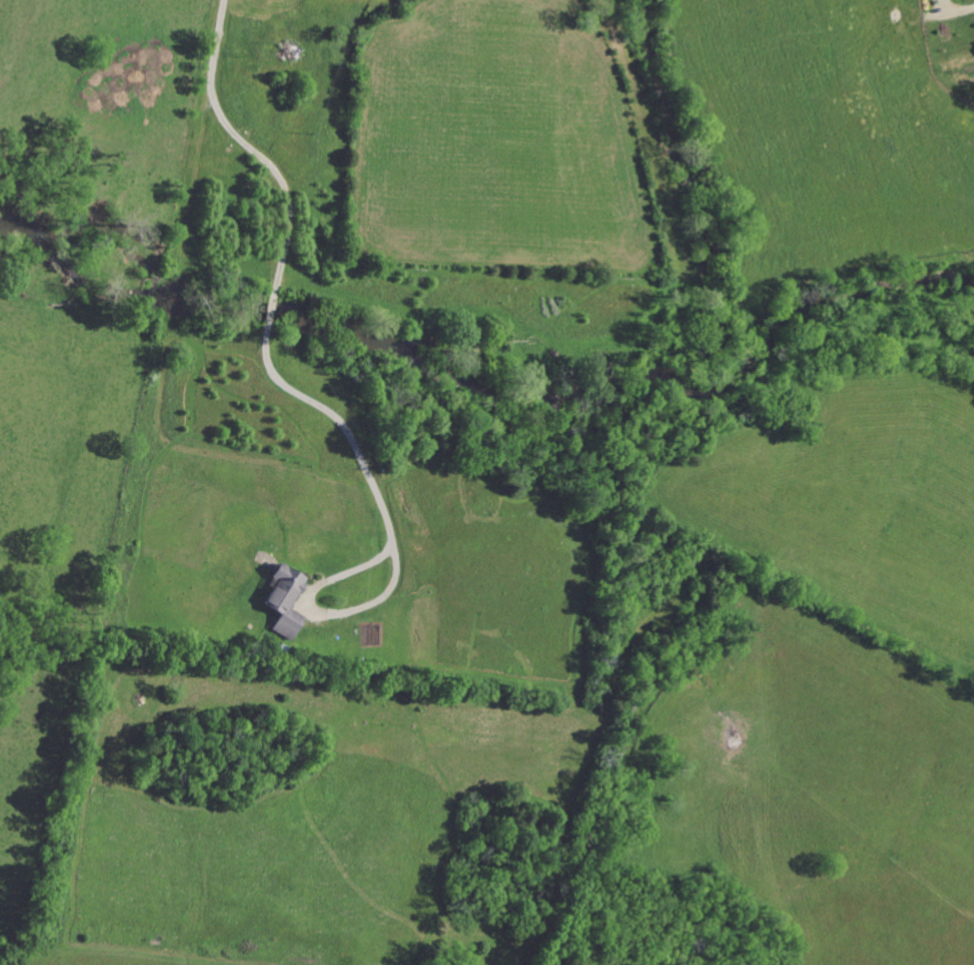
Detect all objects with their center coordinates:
road: (249, 148)
road: (271, 310)
road: (391, 536)
building: (287, 601)

